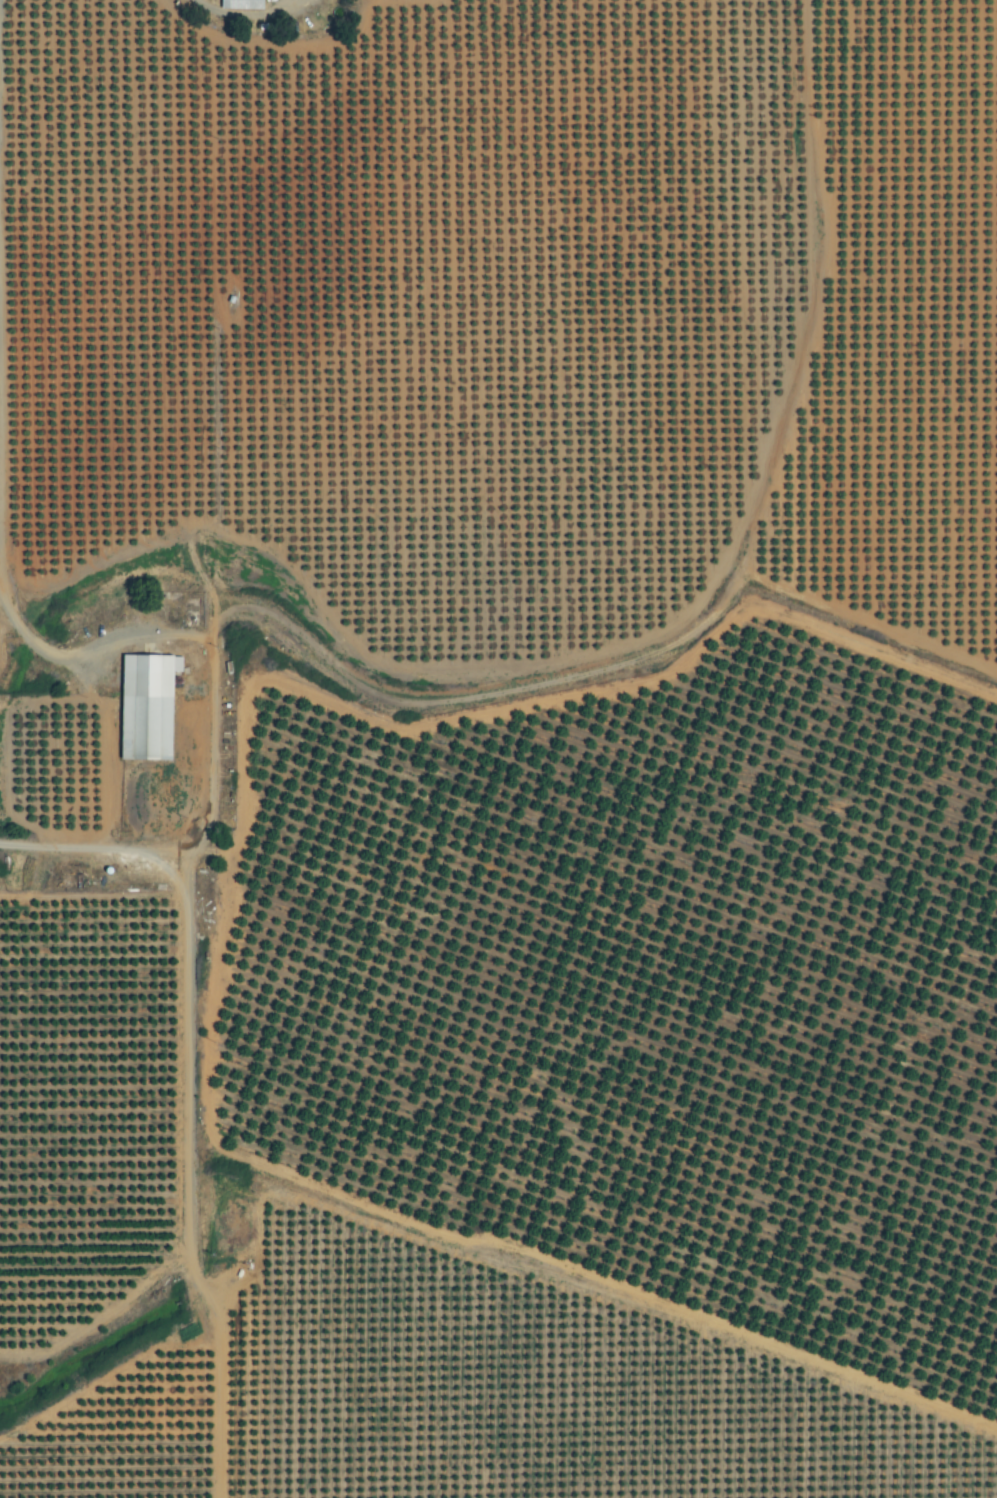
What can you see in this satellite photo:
building: (240, 4)
road: (252, 17)
building: (145, 707)
road: (212, 722)

